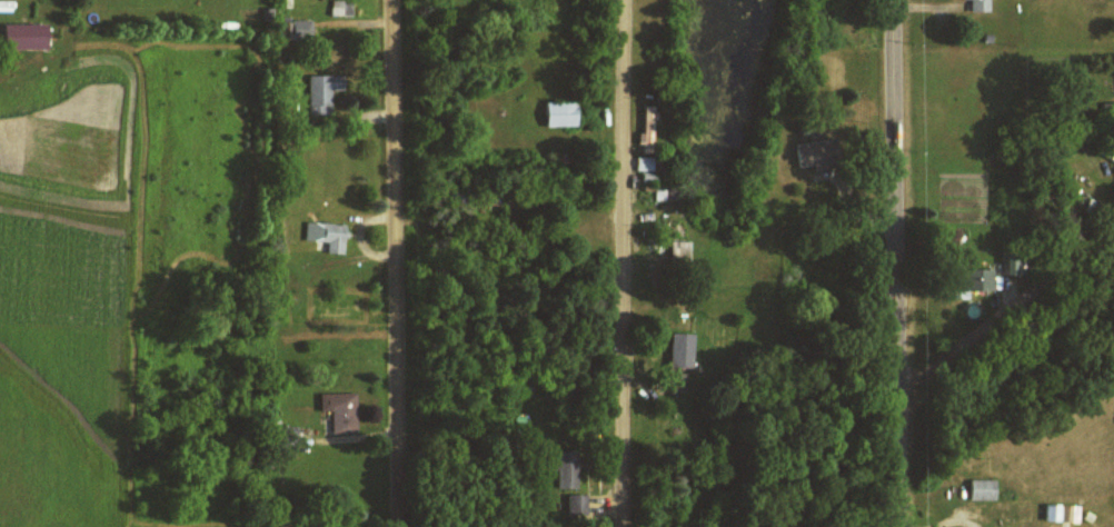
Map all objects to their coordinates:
building: (975, 6)
building: (295, 30)
building: (30, 36)
building: (319, 92)
building: (1112, 112)
building: (556, 113)
building: (644, 128)
building: (805, 153)
building: (641, 163)
building: (663, 195)
building: (324, 236)
building: (673, 253)
road: (899, 262)
road: (394, 263)
road: (623, 263)
building: (975, 280)
road: (1009, 318)
building: (676, 350)
building: (674, 382)
building: (337, 411)
building: (281, 438)
building: (564, 470)
building: (978, 489)
building: (573, 505)
building: (1058, 514)

